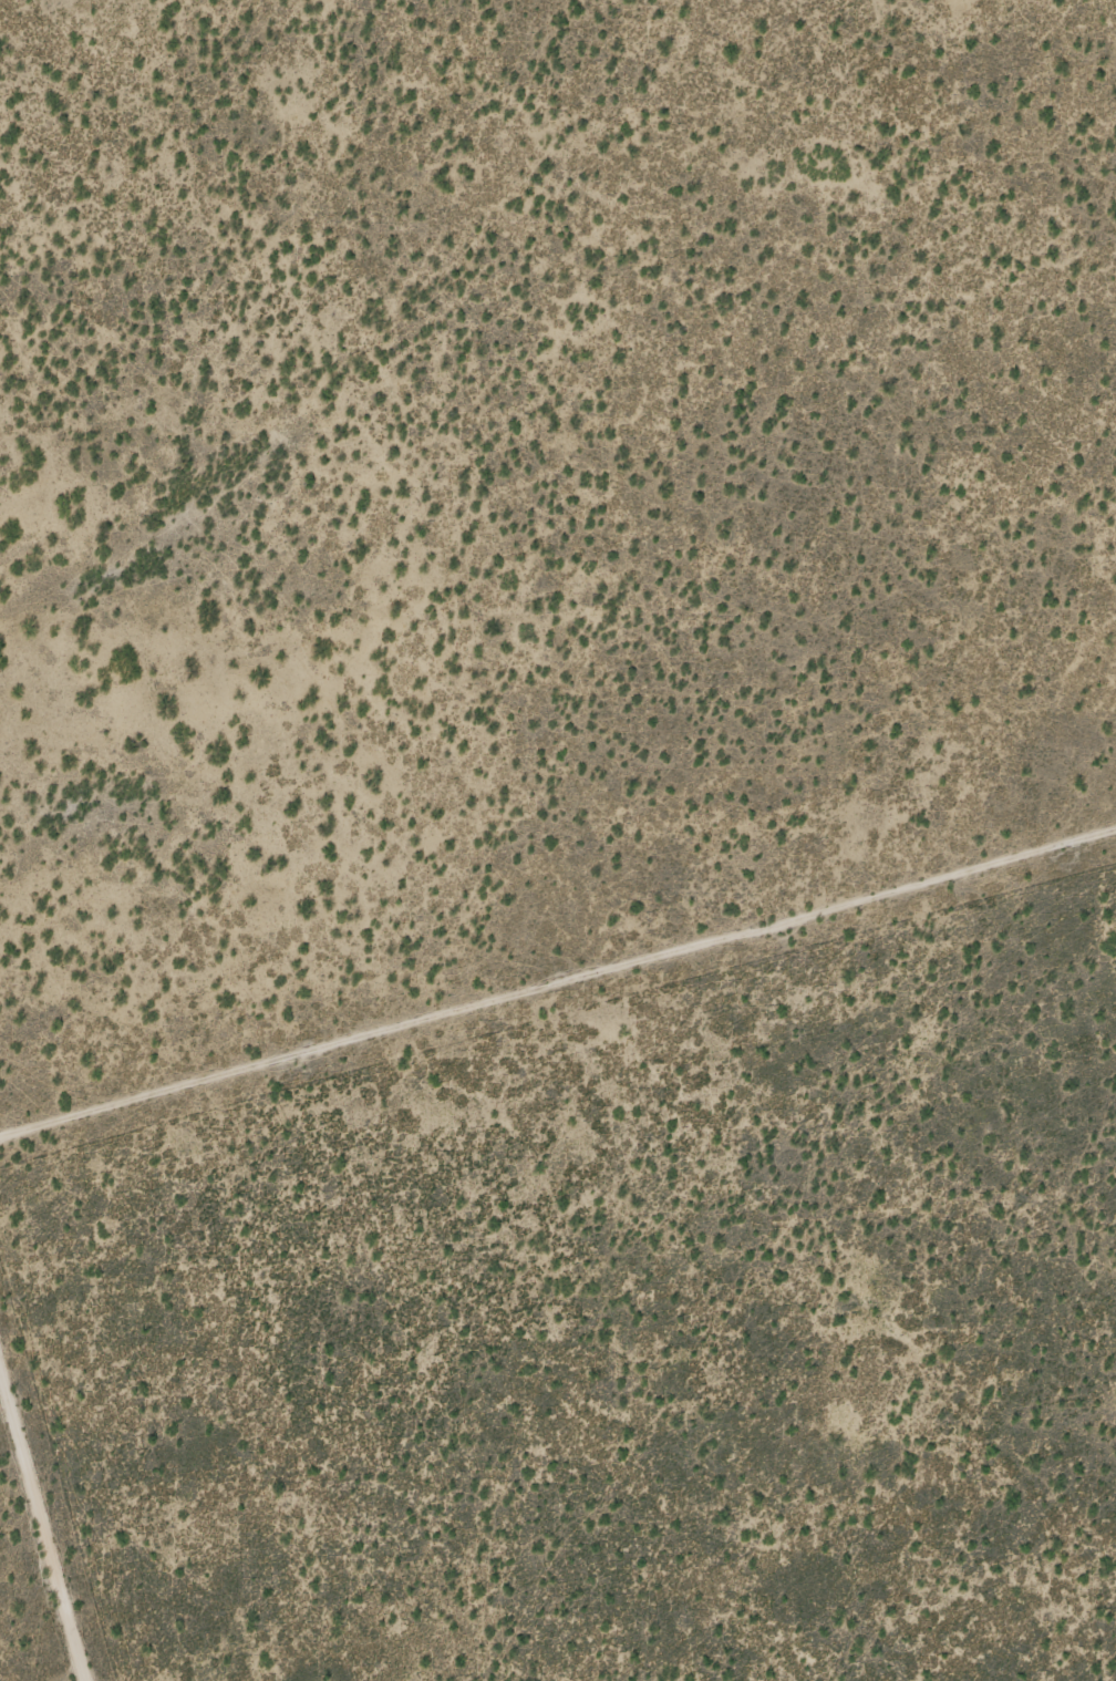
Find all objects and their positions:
road: (558, 987)
road: (43, 1517)

